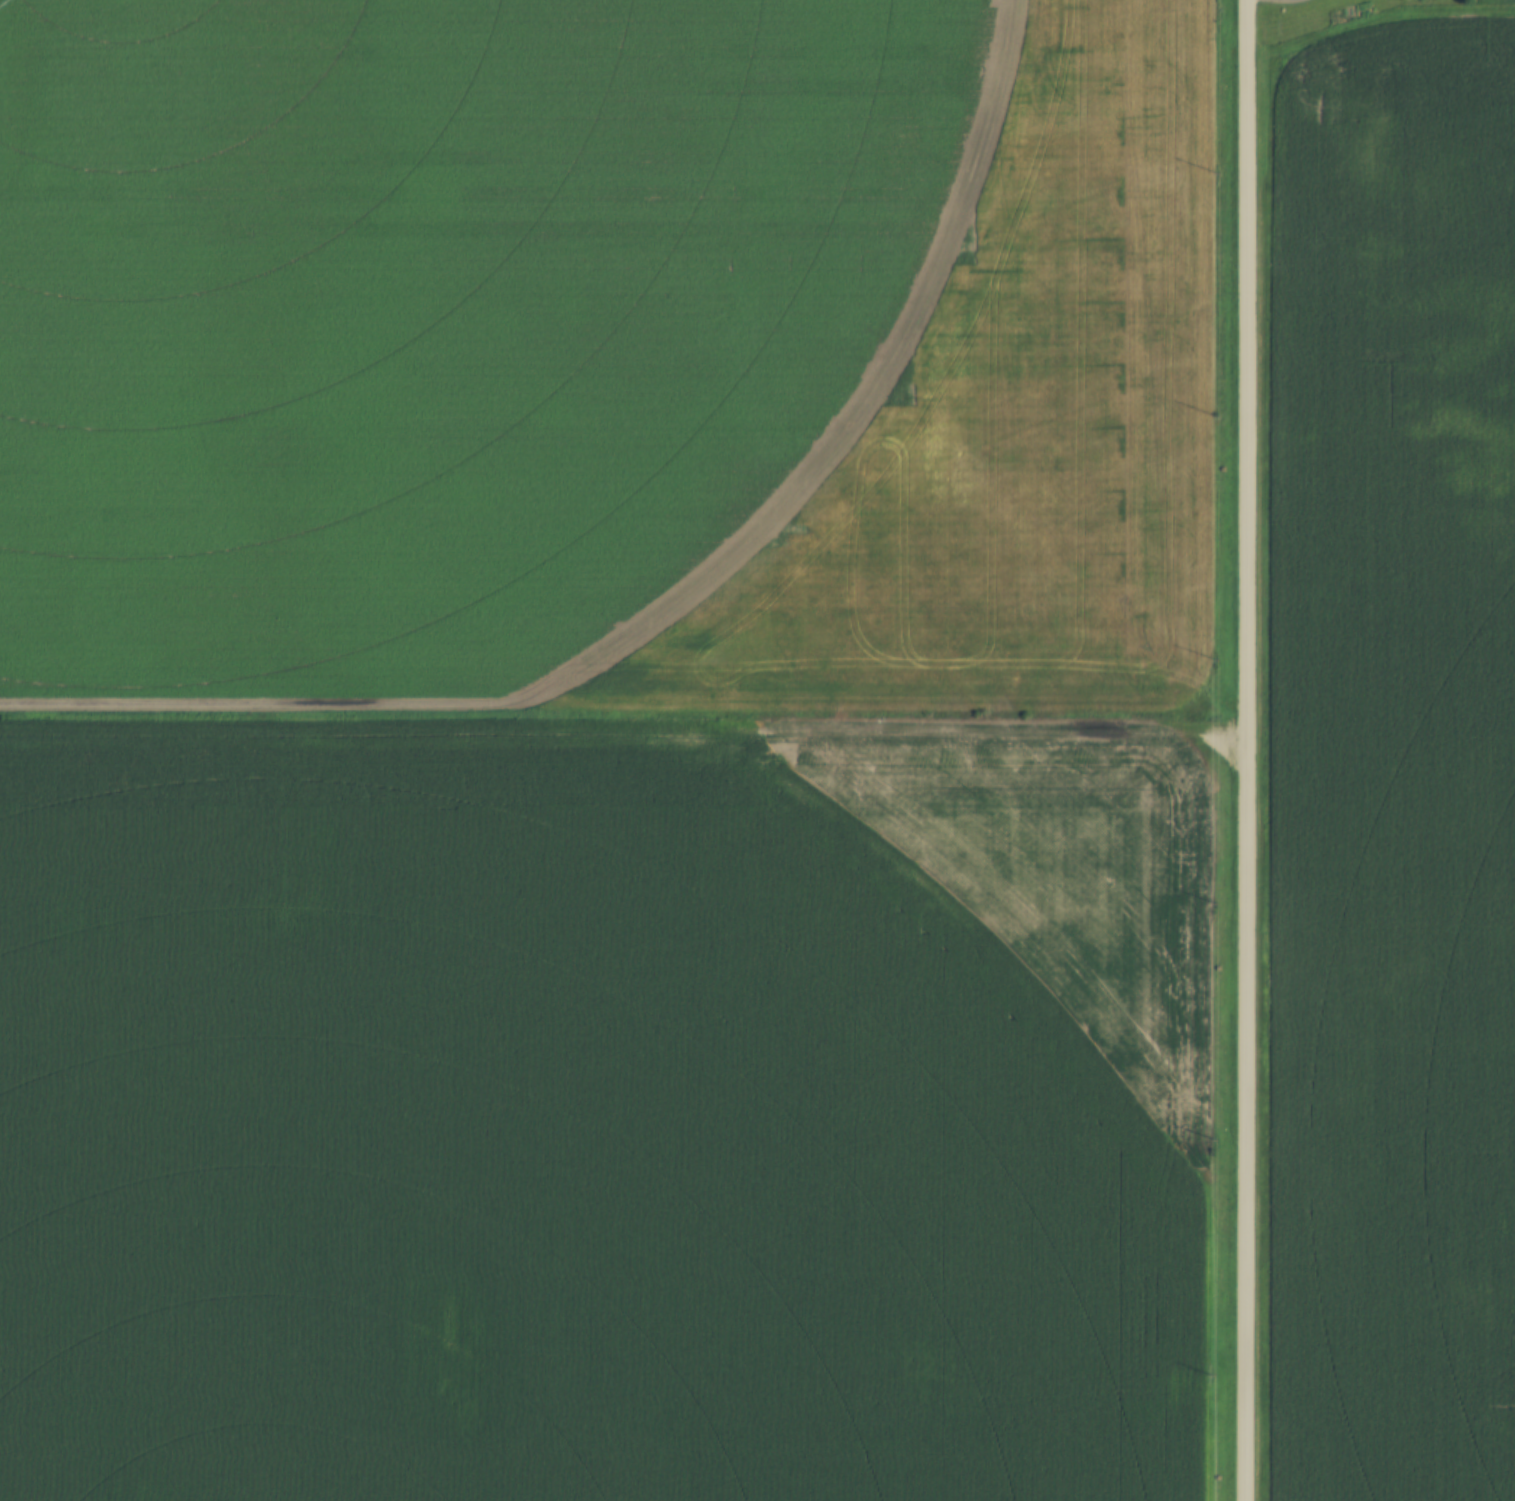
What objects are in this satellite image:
road: (1247, 750)

